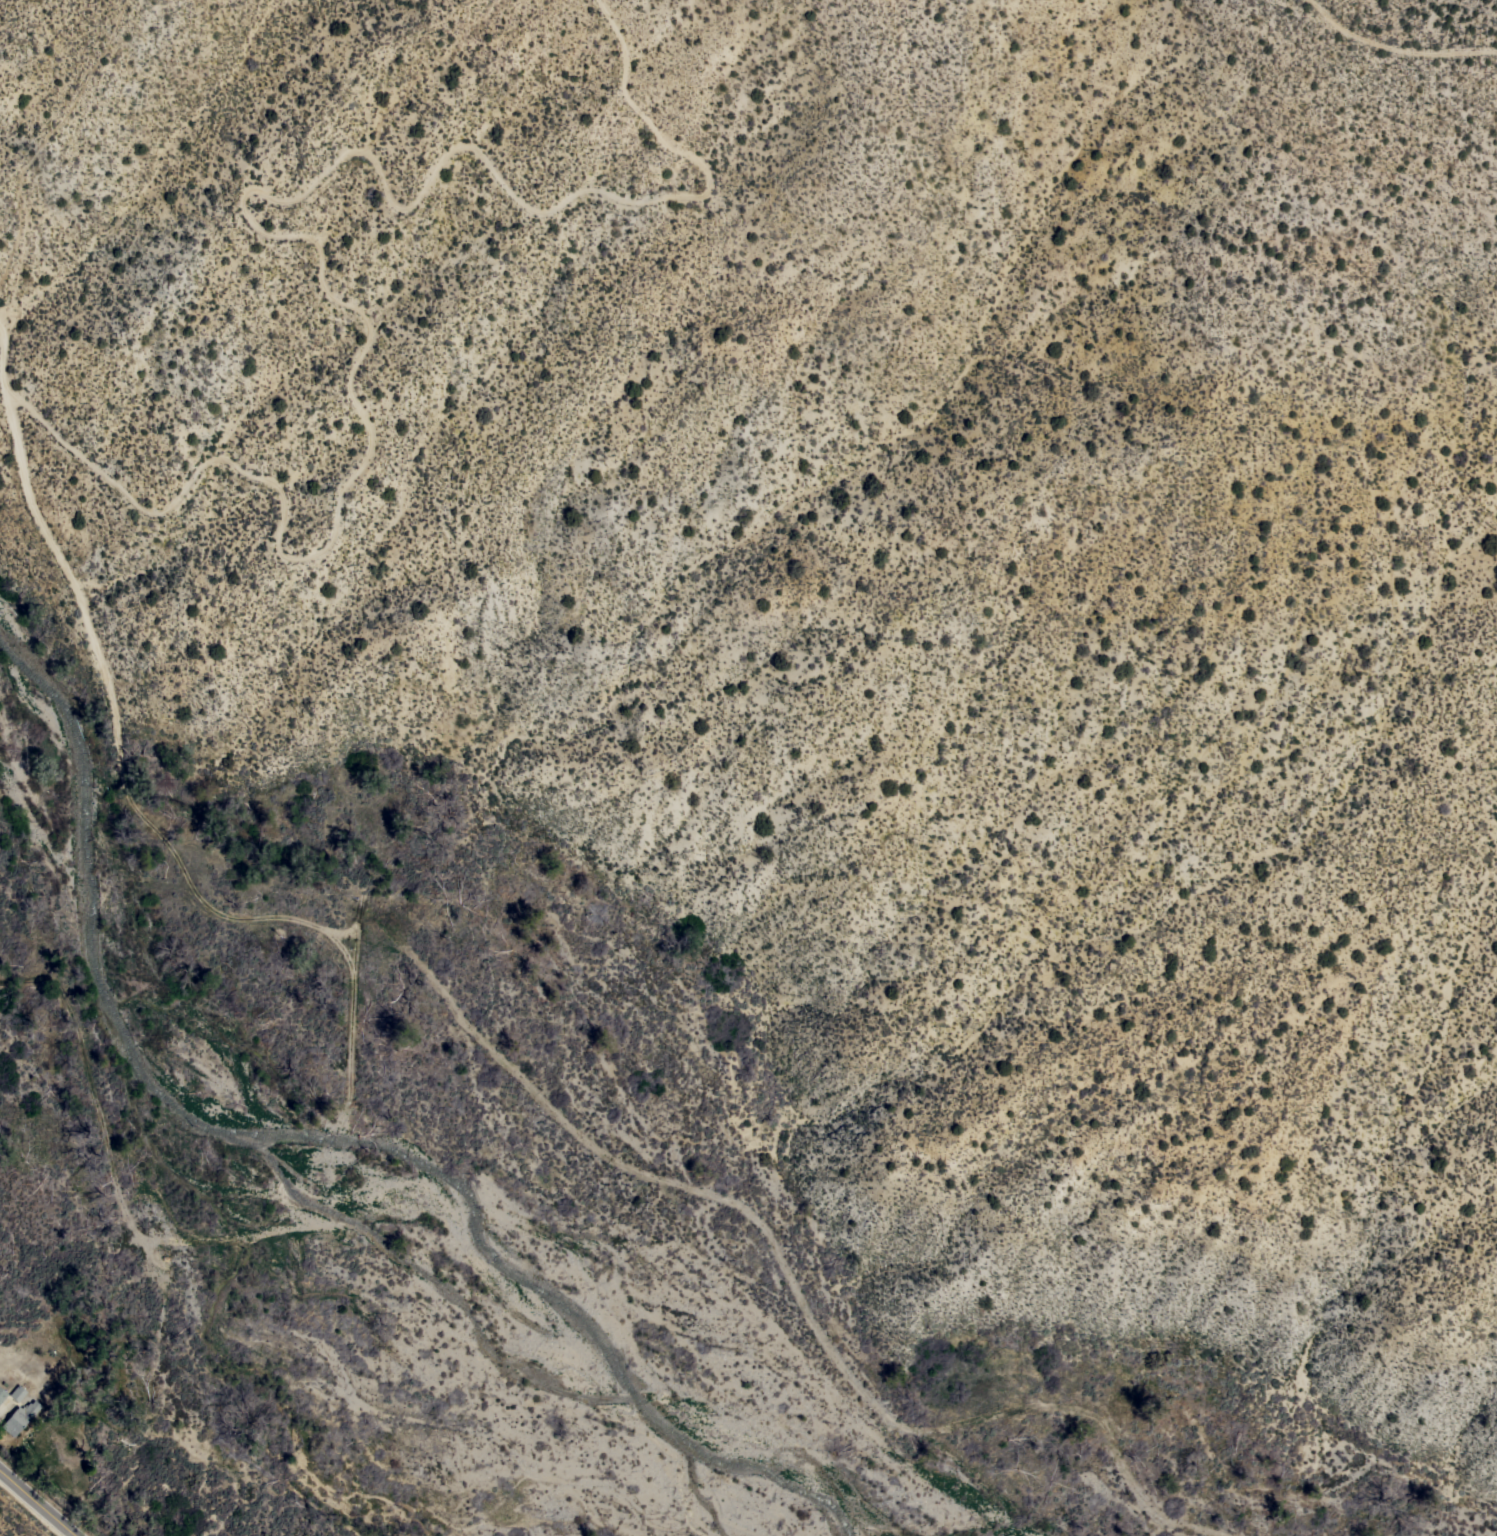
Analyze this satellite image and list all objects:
road: (1398, 50)
road: (270, 237)
road: (51, 536)
building: (17, 1393)
building: (2, 1394)
building: (19, 1417)
road: (37, 1503)

